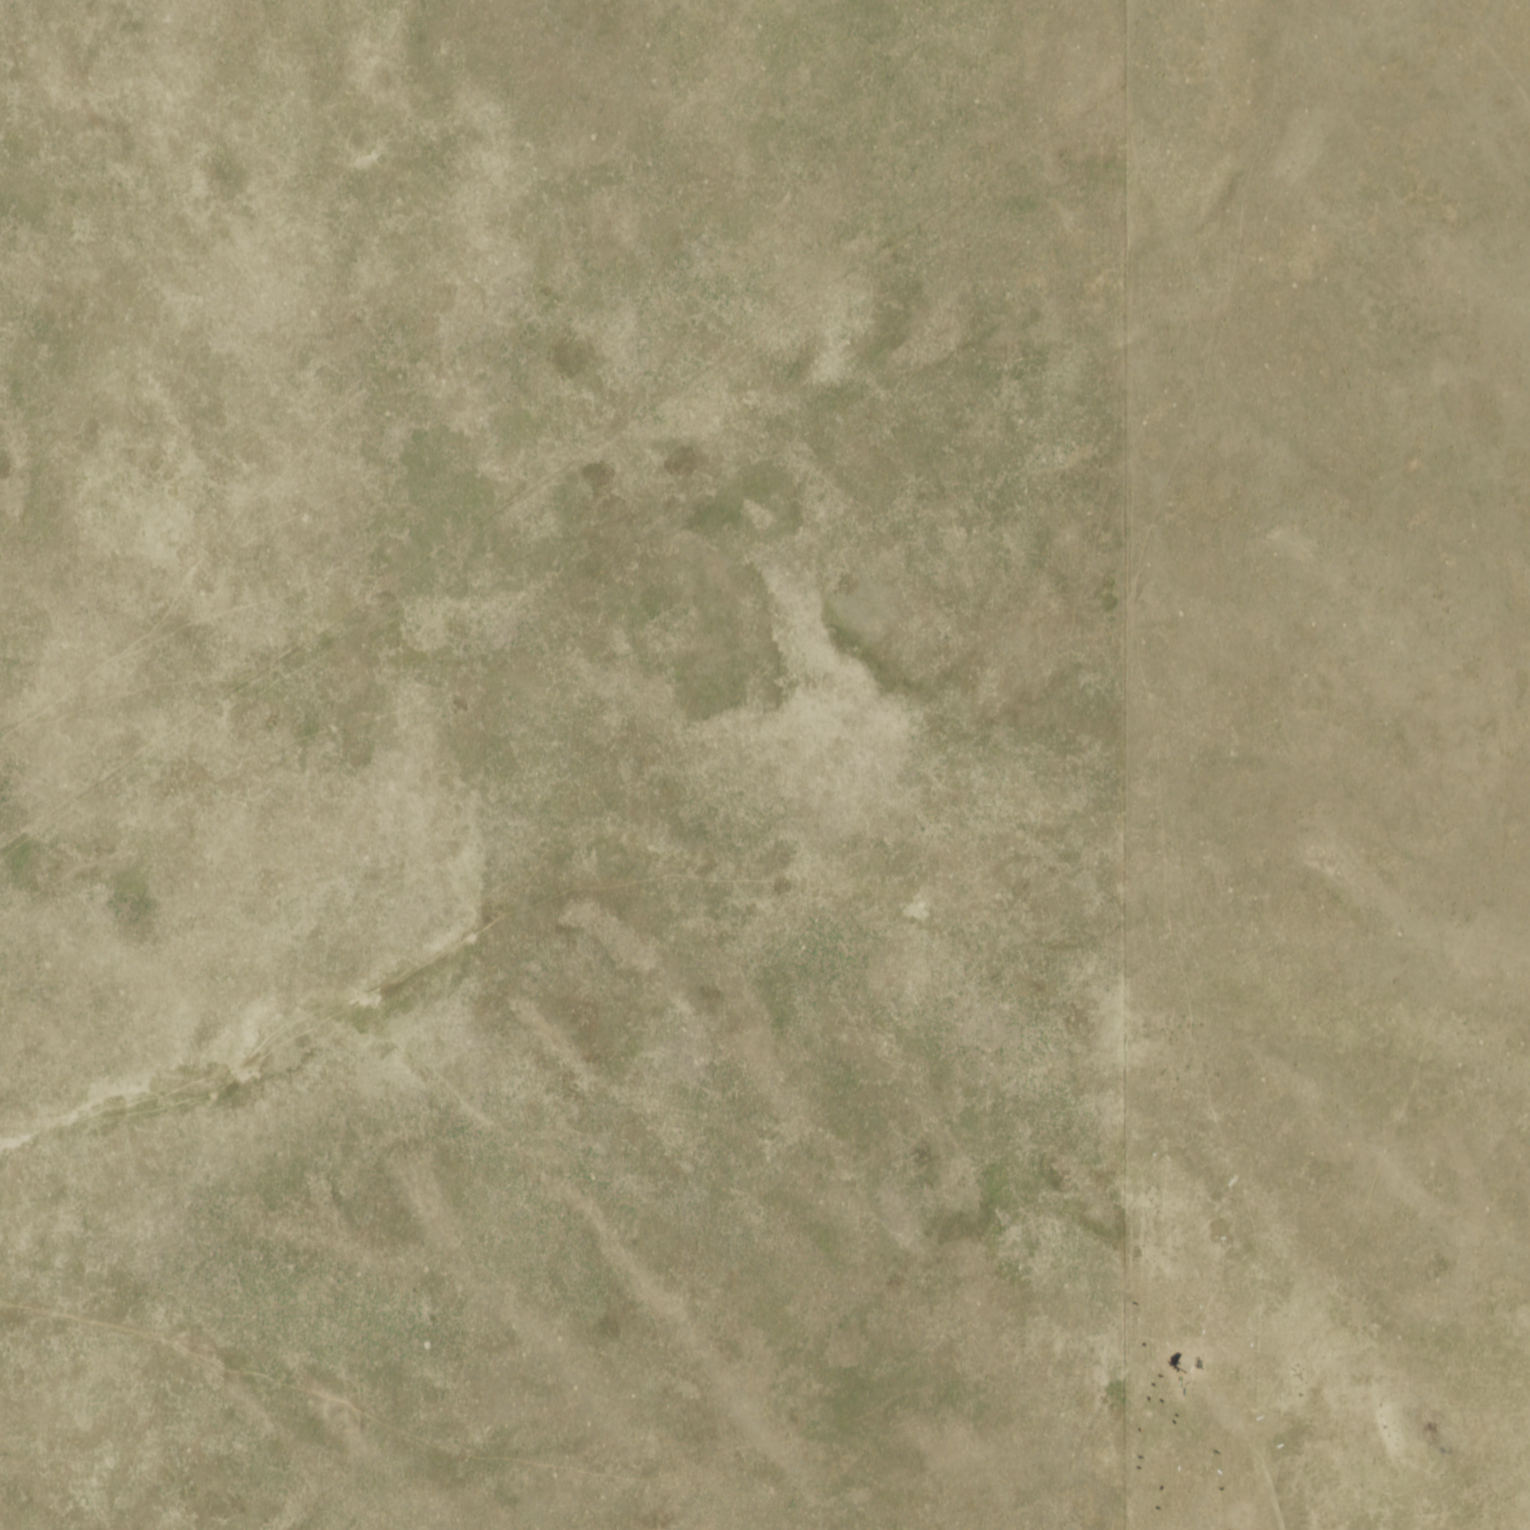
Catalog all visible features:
building: (1184, 1361)

